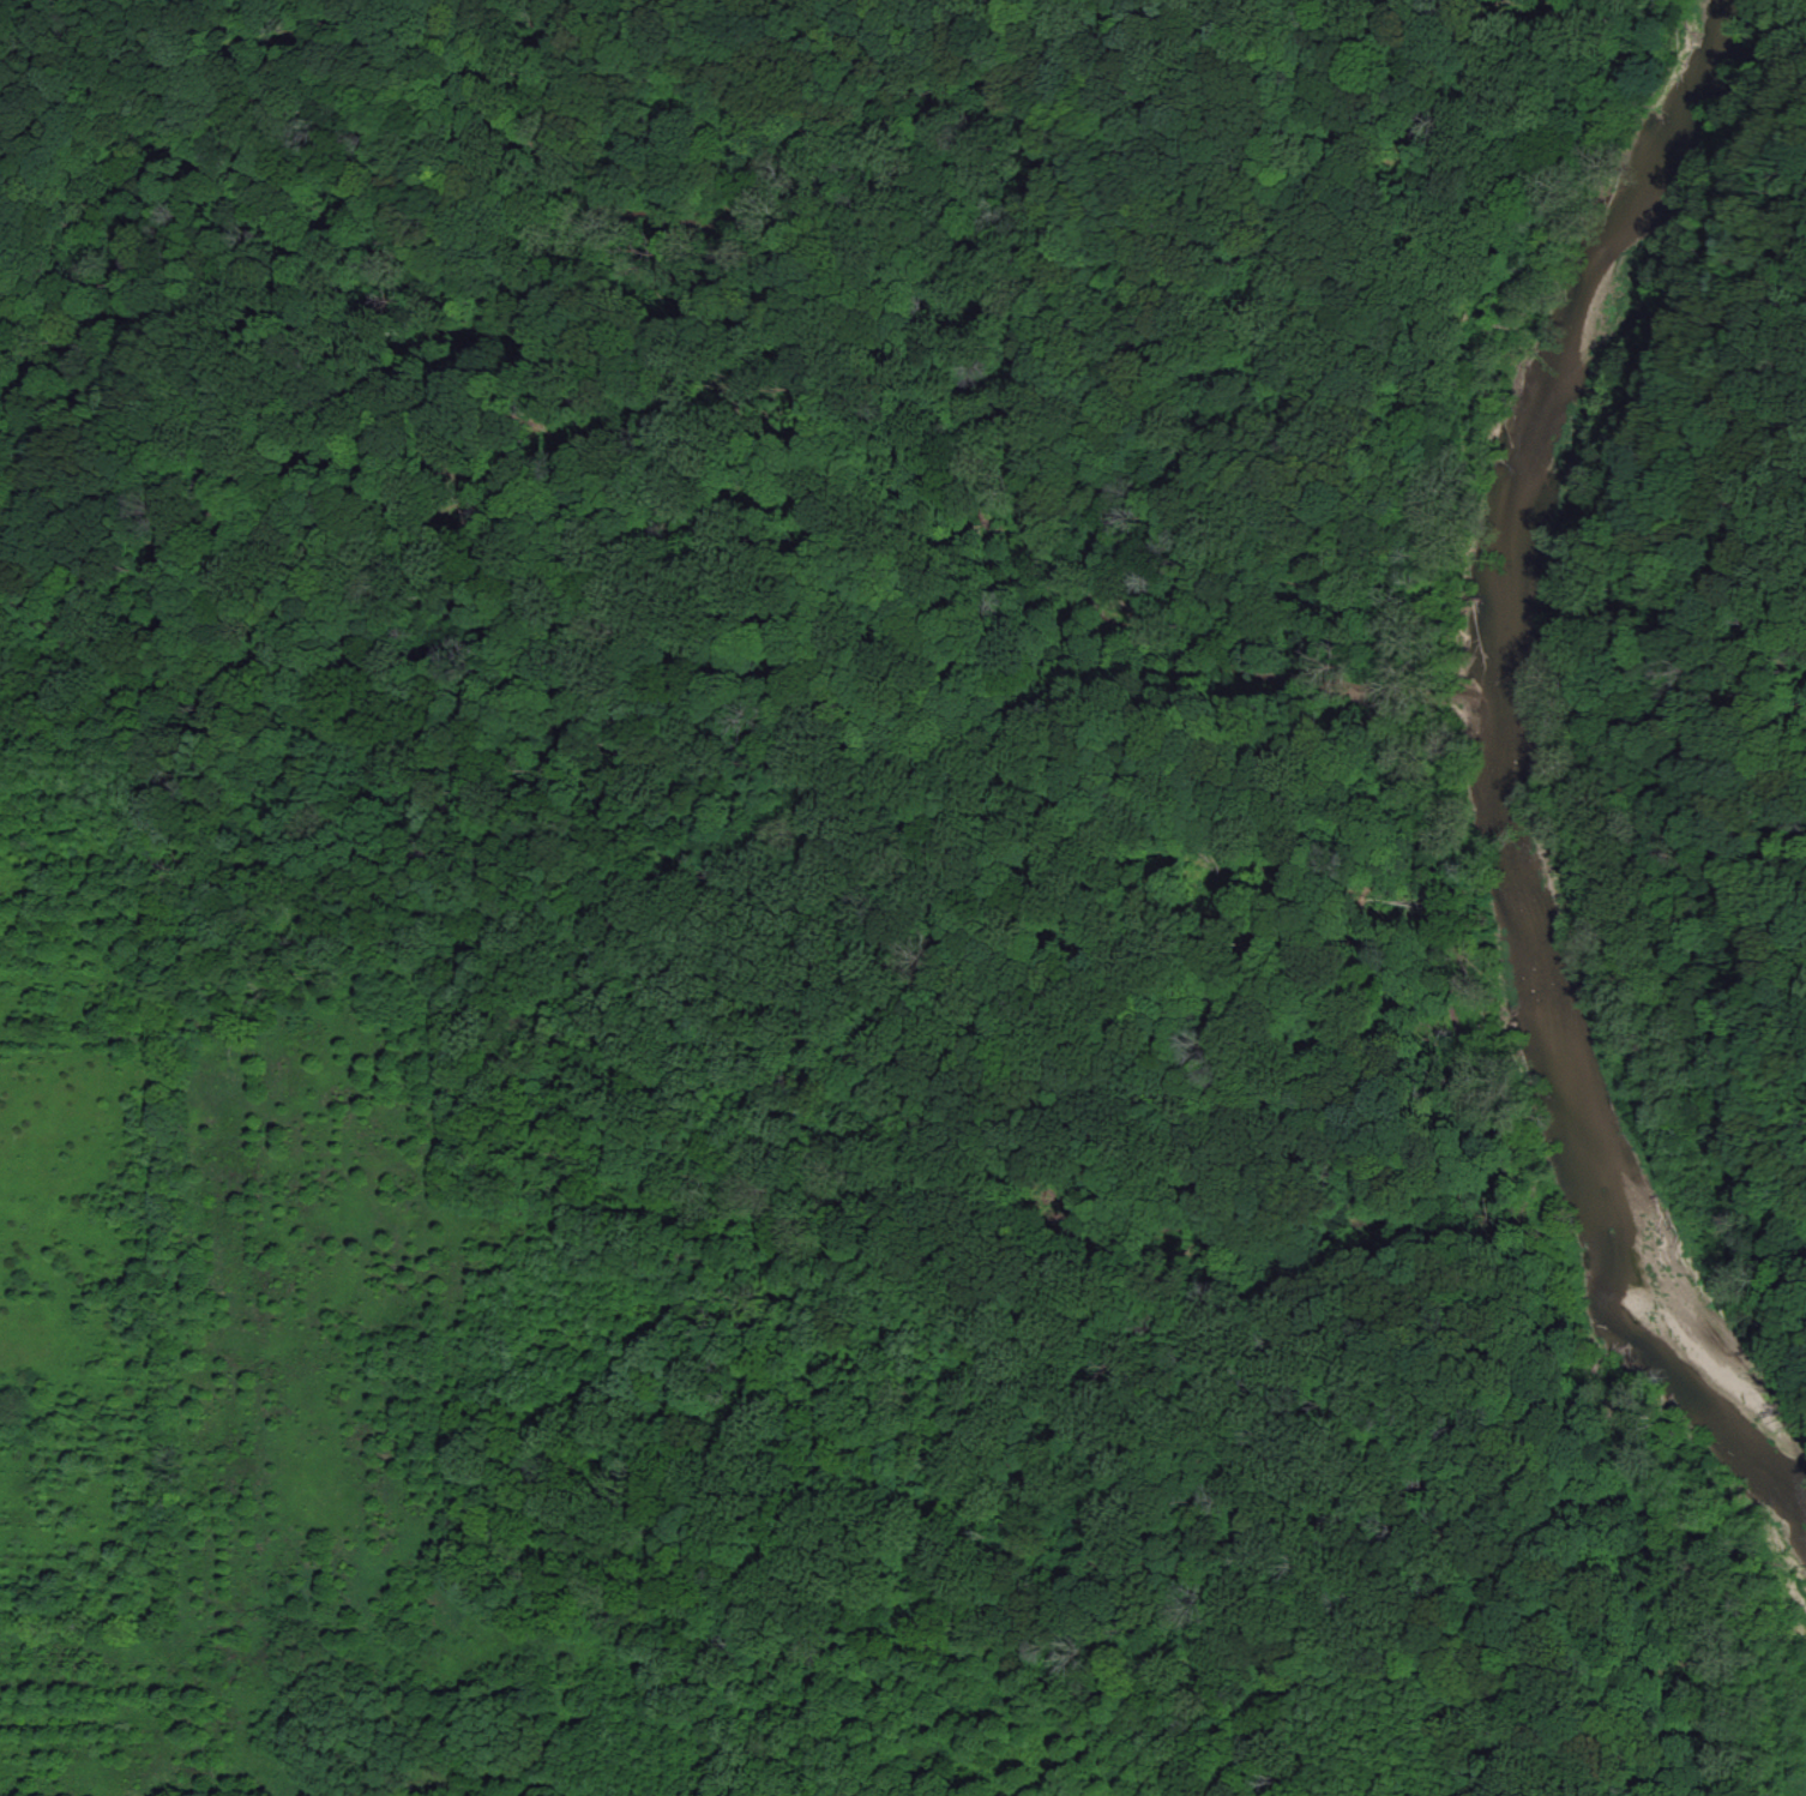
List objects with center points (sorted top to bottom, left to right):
river: (1504, 765)

